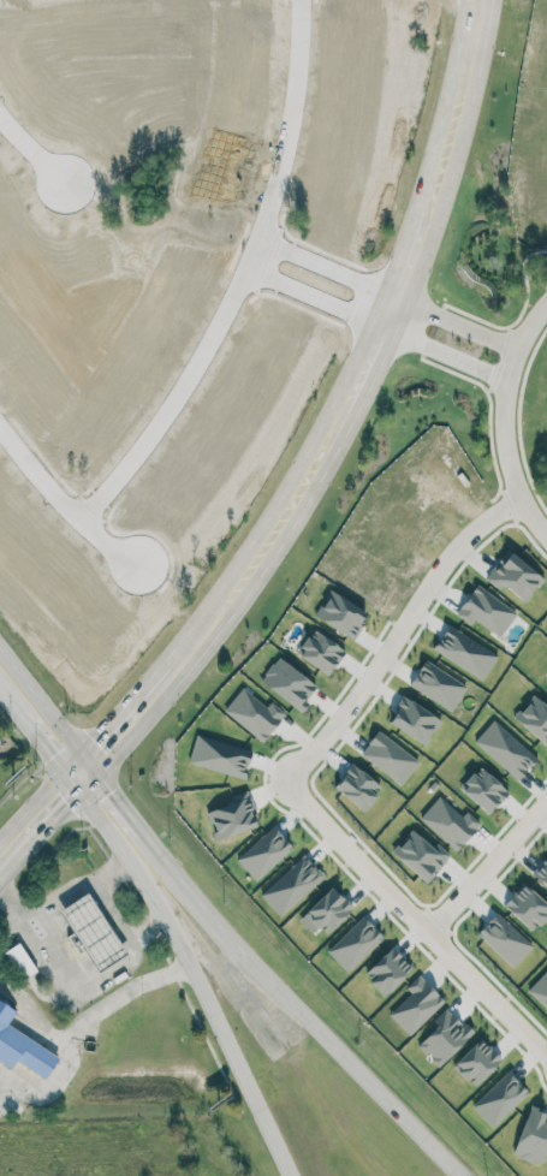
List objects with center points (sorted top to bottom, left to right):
road: (34, 155)
road: (329, 269)
road: (405, 271)
road: (245, 283)
road: (316, 301)
road: (399, 317)
road: (464, 322)
road: (452, 355)
road: (504, 417)
road: (65, 505)
building: (515, 574)
road: (231, 598)
building: (487, 610)
road: (399, 632)
building: (289, 682)
building: (438, 684)
building: (546, 688)
building: (254, 713)
building: (534, 717)
road: (55, 718)
building: (414, 719)
road: (123, 725)
road: (35, 736)
traffic signals: (103, 748)
traffic signals: (50, 755)
building: (388, 756)
building: (357, 785)
traffic signals: (112, 789)
building: (483, 789)
traffic signals: (60, 795)
road: (35, 819)
building: (450, 821)
building: (263, 853)
road: (488, 865)
building: (328, 909)
road: (417, 917)
building: (93, 931)
building: (504, 939)
building: (355, 943)
building: (20, 960)
road: (191, 973)
road: (77, 984)
road: (280, 988)
building: (540, 988)
building: (416, 1004)
road: (36, 1014)
road: (85, 1024)
building: (23, 1046)
building: (476, 1062)
building: (499, 1098)
building: (533, 1136)

